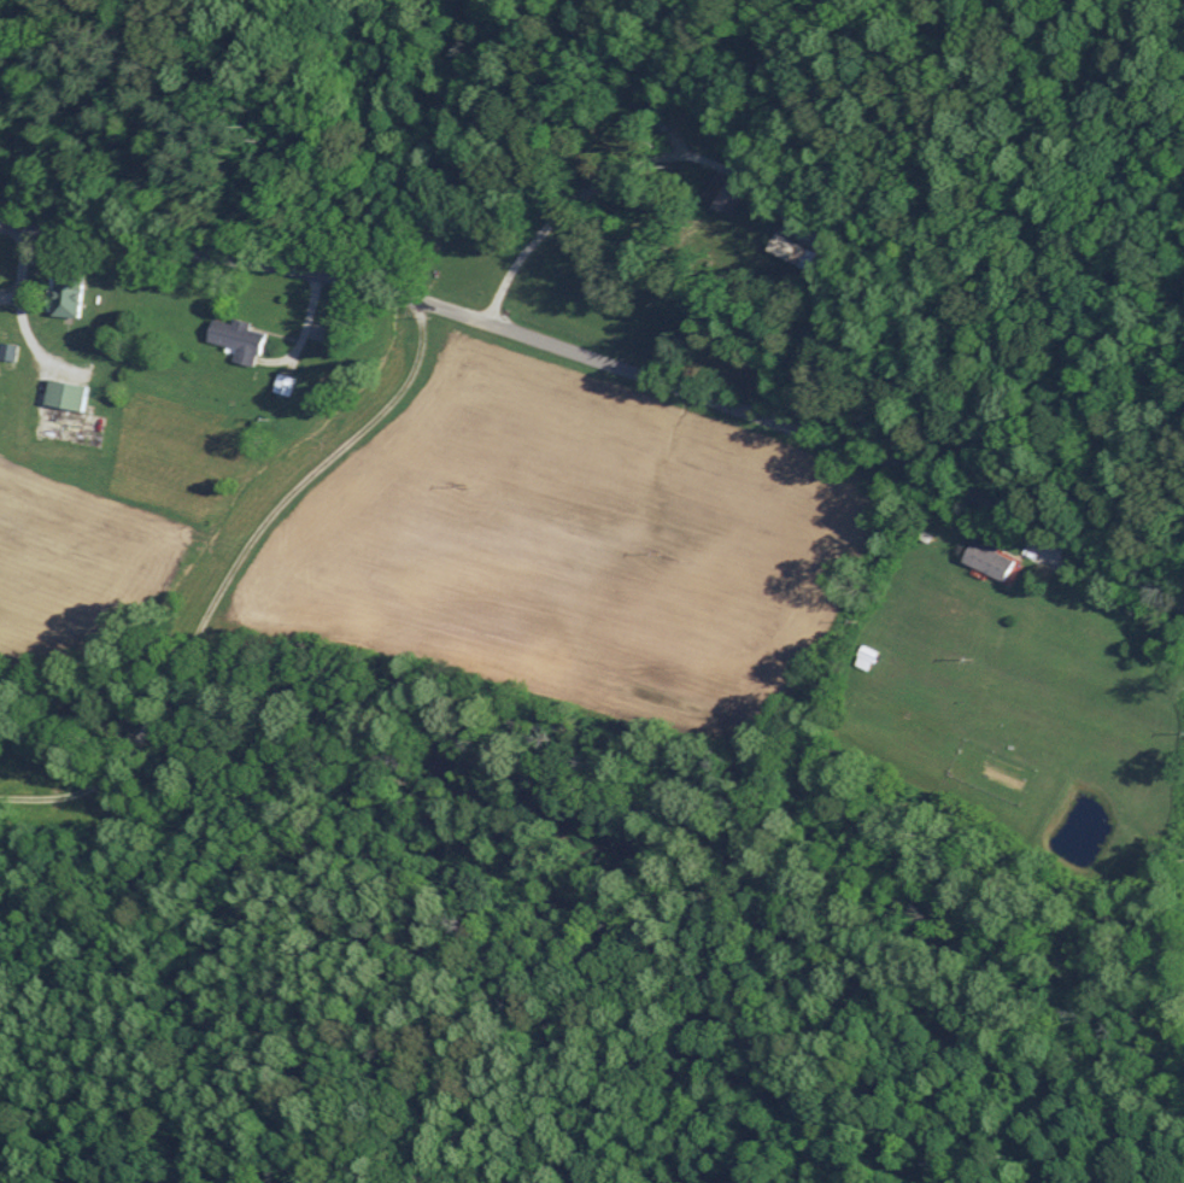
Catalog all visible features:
building: (716, 193)
building: (789, 251)
building: (63, 294)
building: (234, 340)
building: (6, 357)
road: (608, 364)
building: (63, 394)
building: (985, 560)
building: (866, 654)

